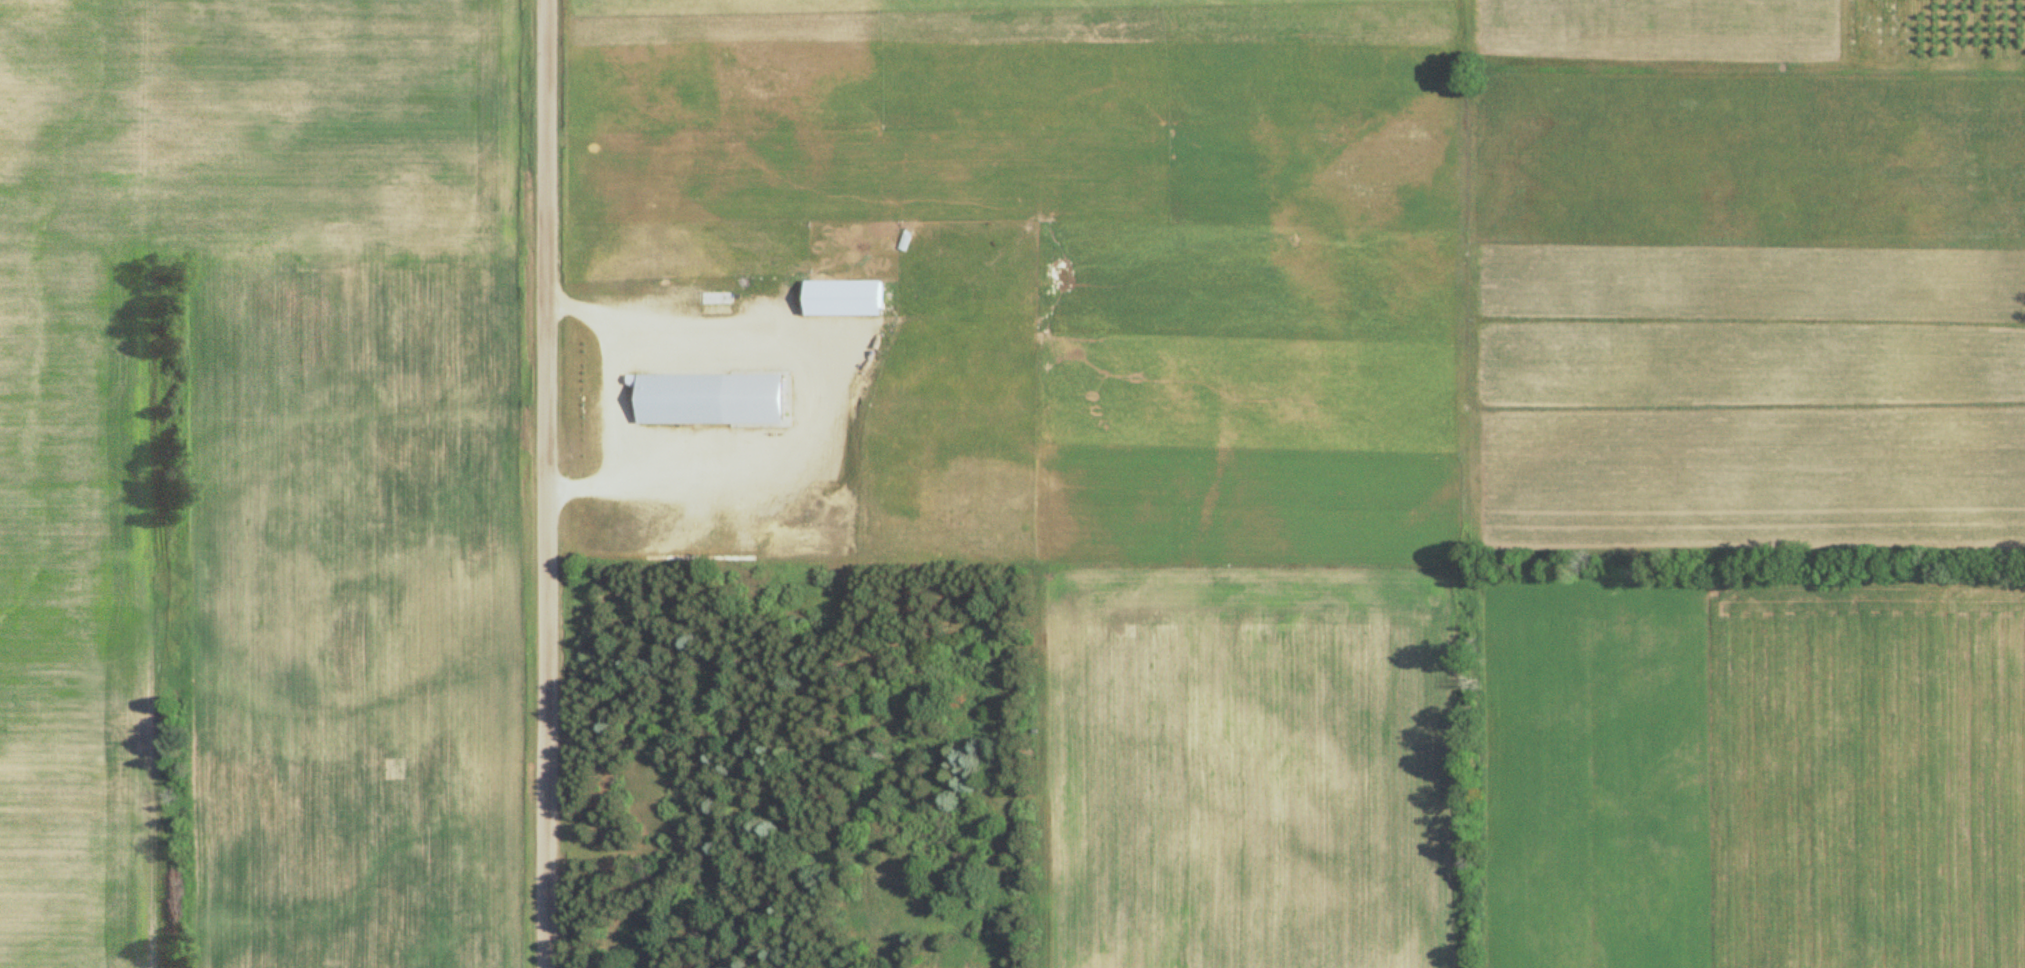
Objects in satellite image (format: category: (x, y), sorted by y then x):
building: (676, 397)
road: (554, 484)
crop: (75, 622)

